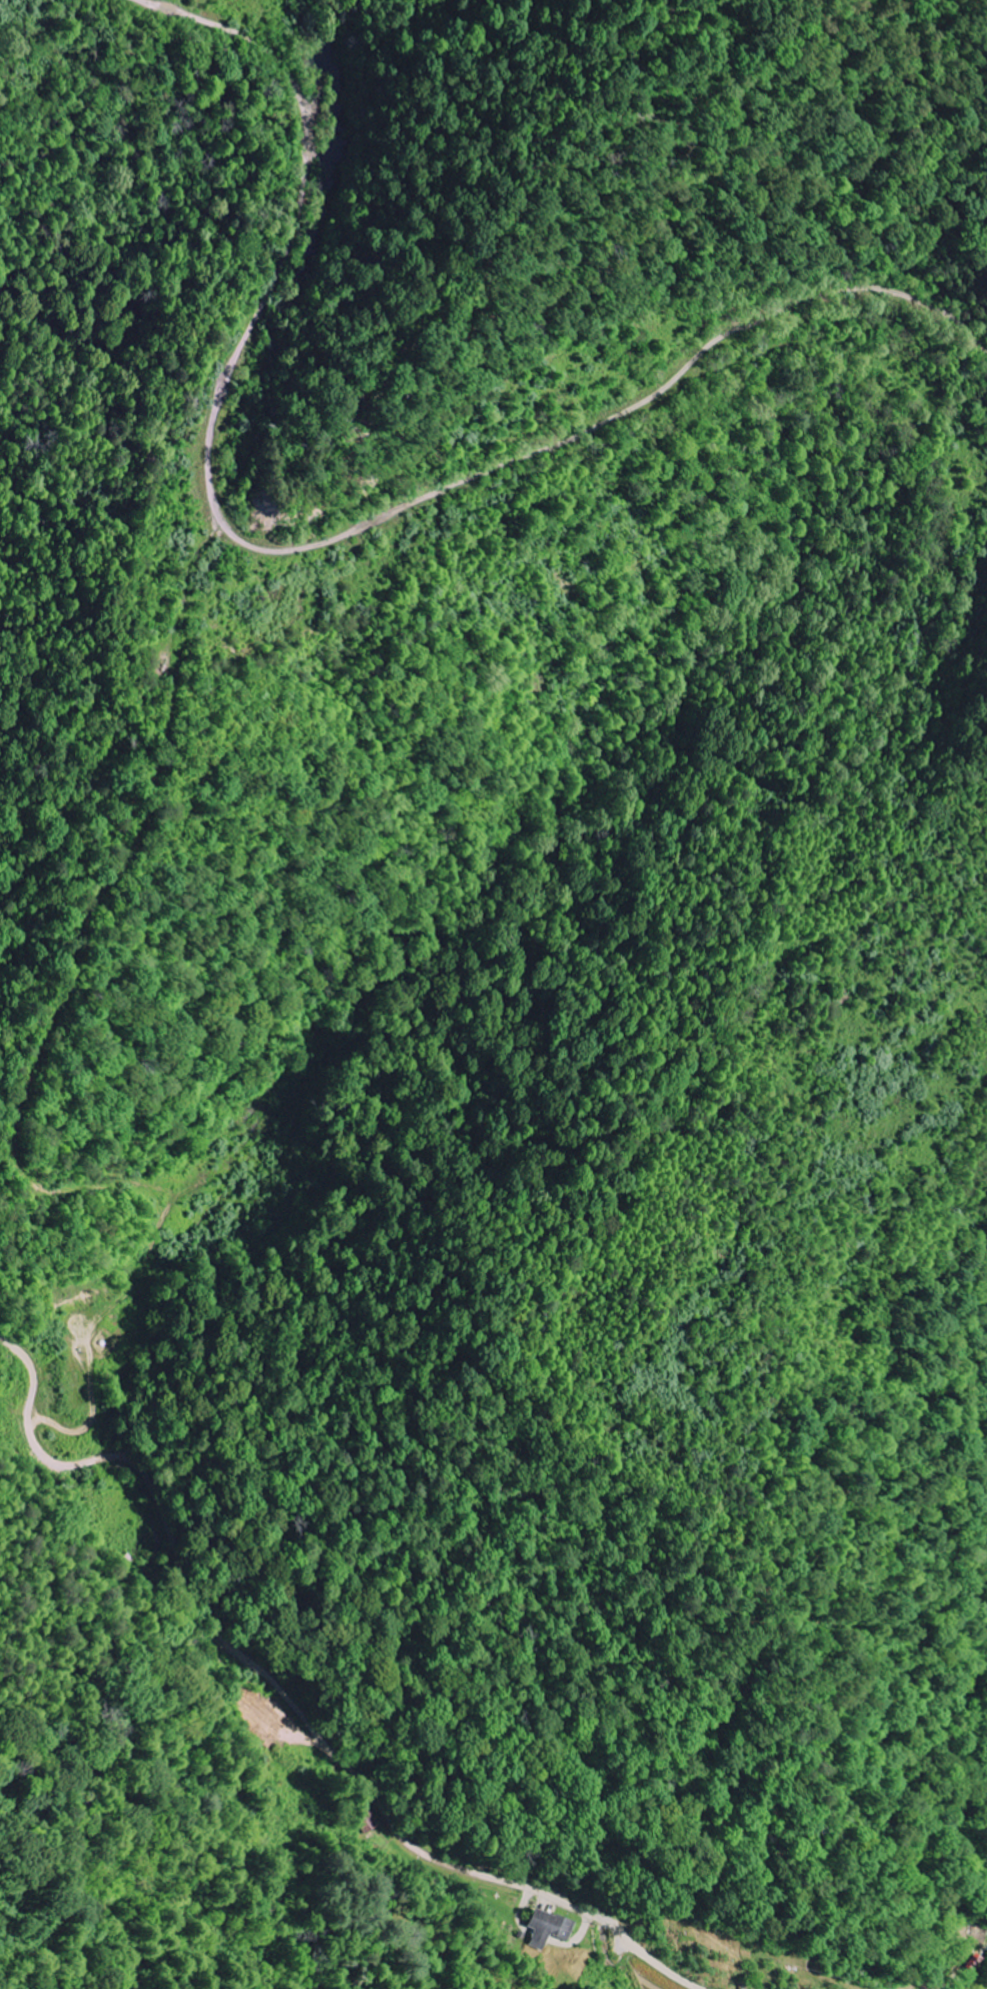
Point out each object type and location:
road: (368, 1775)
road: (553, 1895)
building: (552, 1928)

